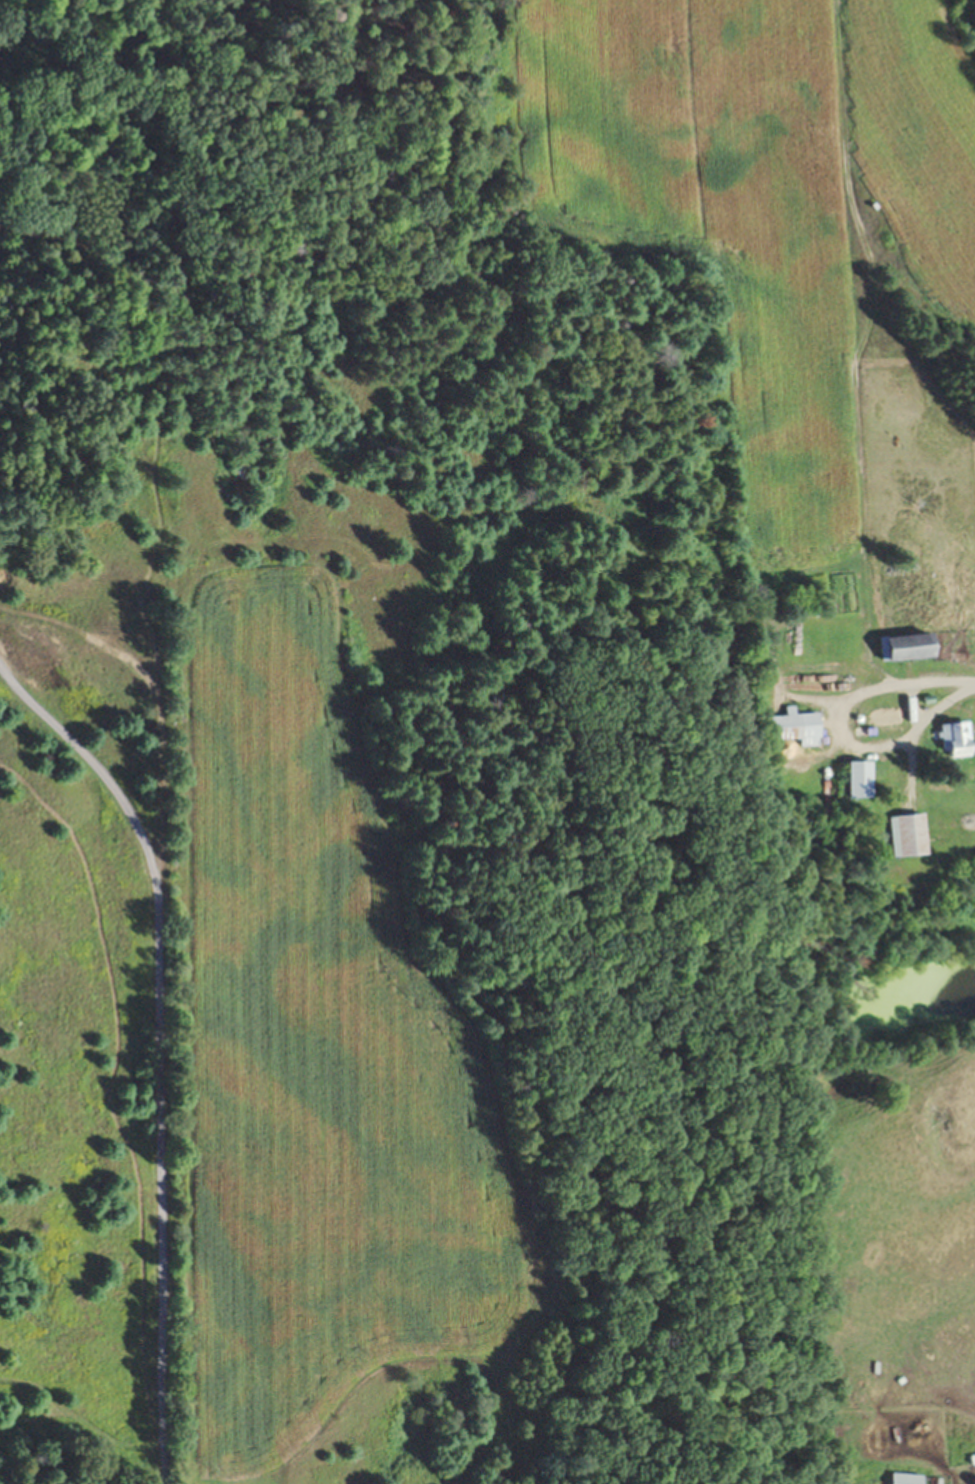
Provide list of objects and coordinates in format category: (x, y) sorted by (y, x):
building: (909, 646)
road: (953, 686)
building: (797, 726)
building: (956, 740)
building: (862, 779)
building: (908, 835)
road: (166, 988)
building: (908, 1479)

